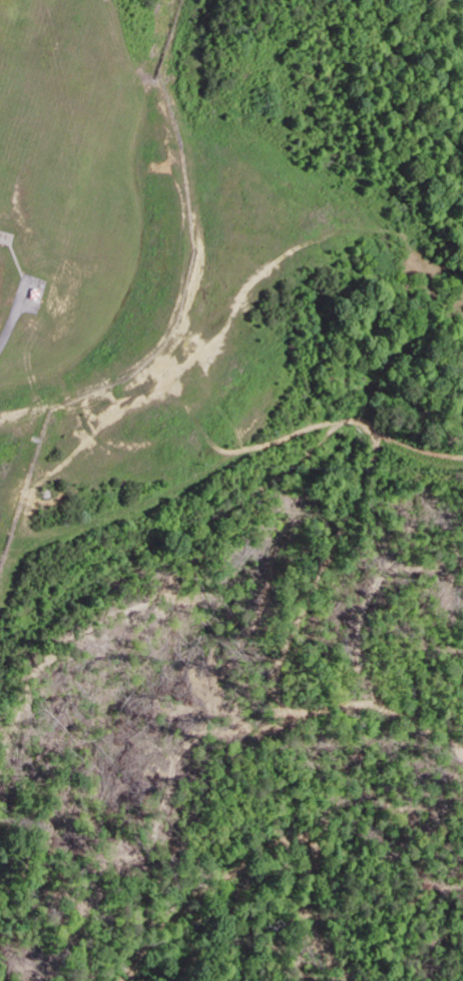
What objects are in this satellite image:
airport: (123, 213)

